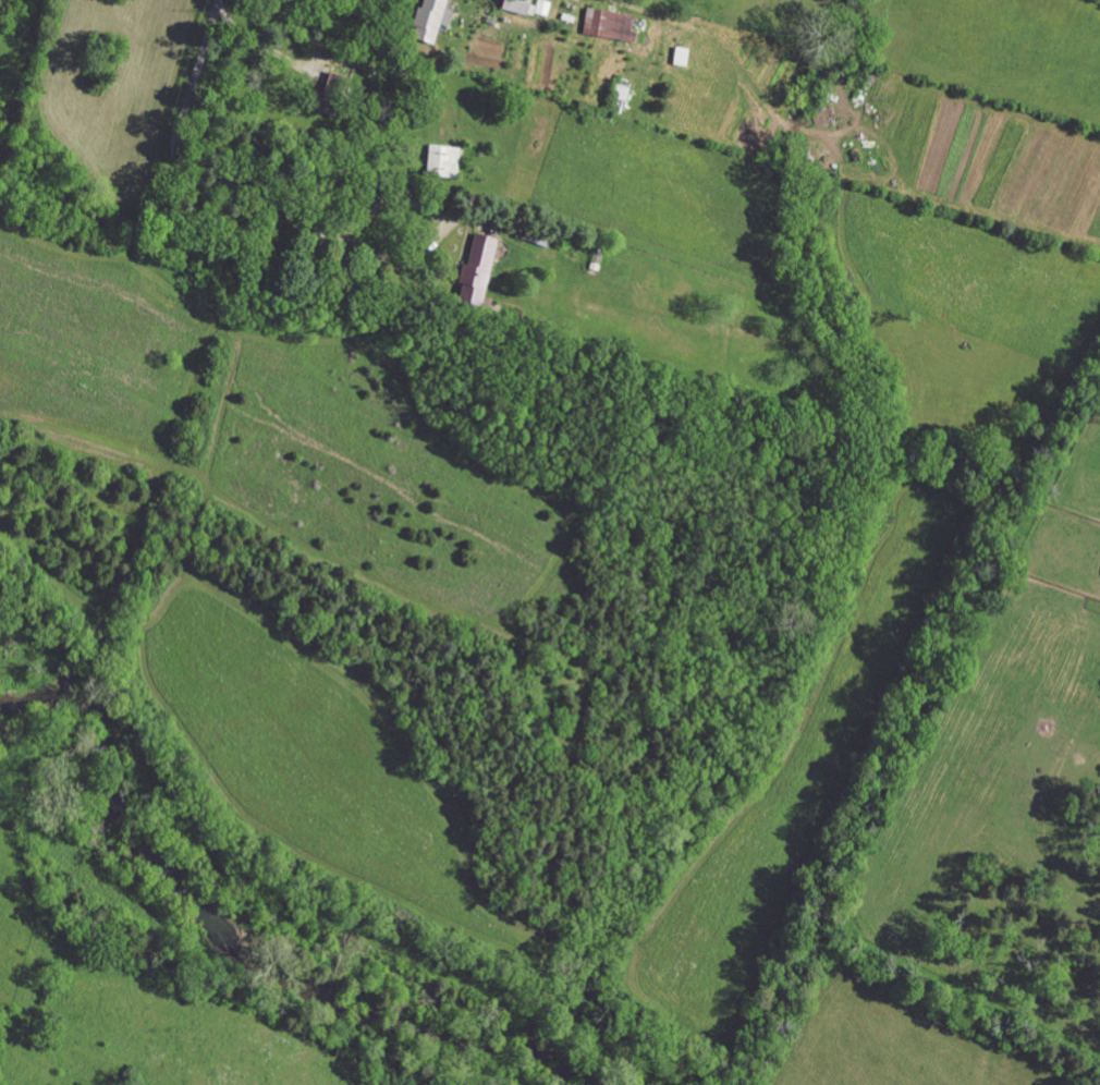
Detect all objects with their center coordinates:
building: (518, 7)
building: (542, 9)
building: (430, 20)
building: (681, 57)
road: (198, 62)
road: (337, 62)
building: (443, 162)
road: (282, 212)
building: (476, 271)

